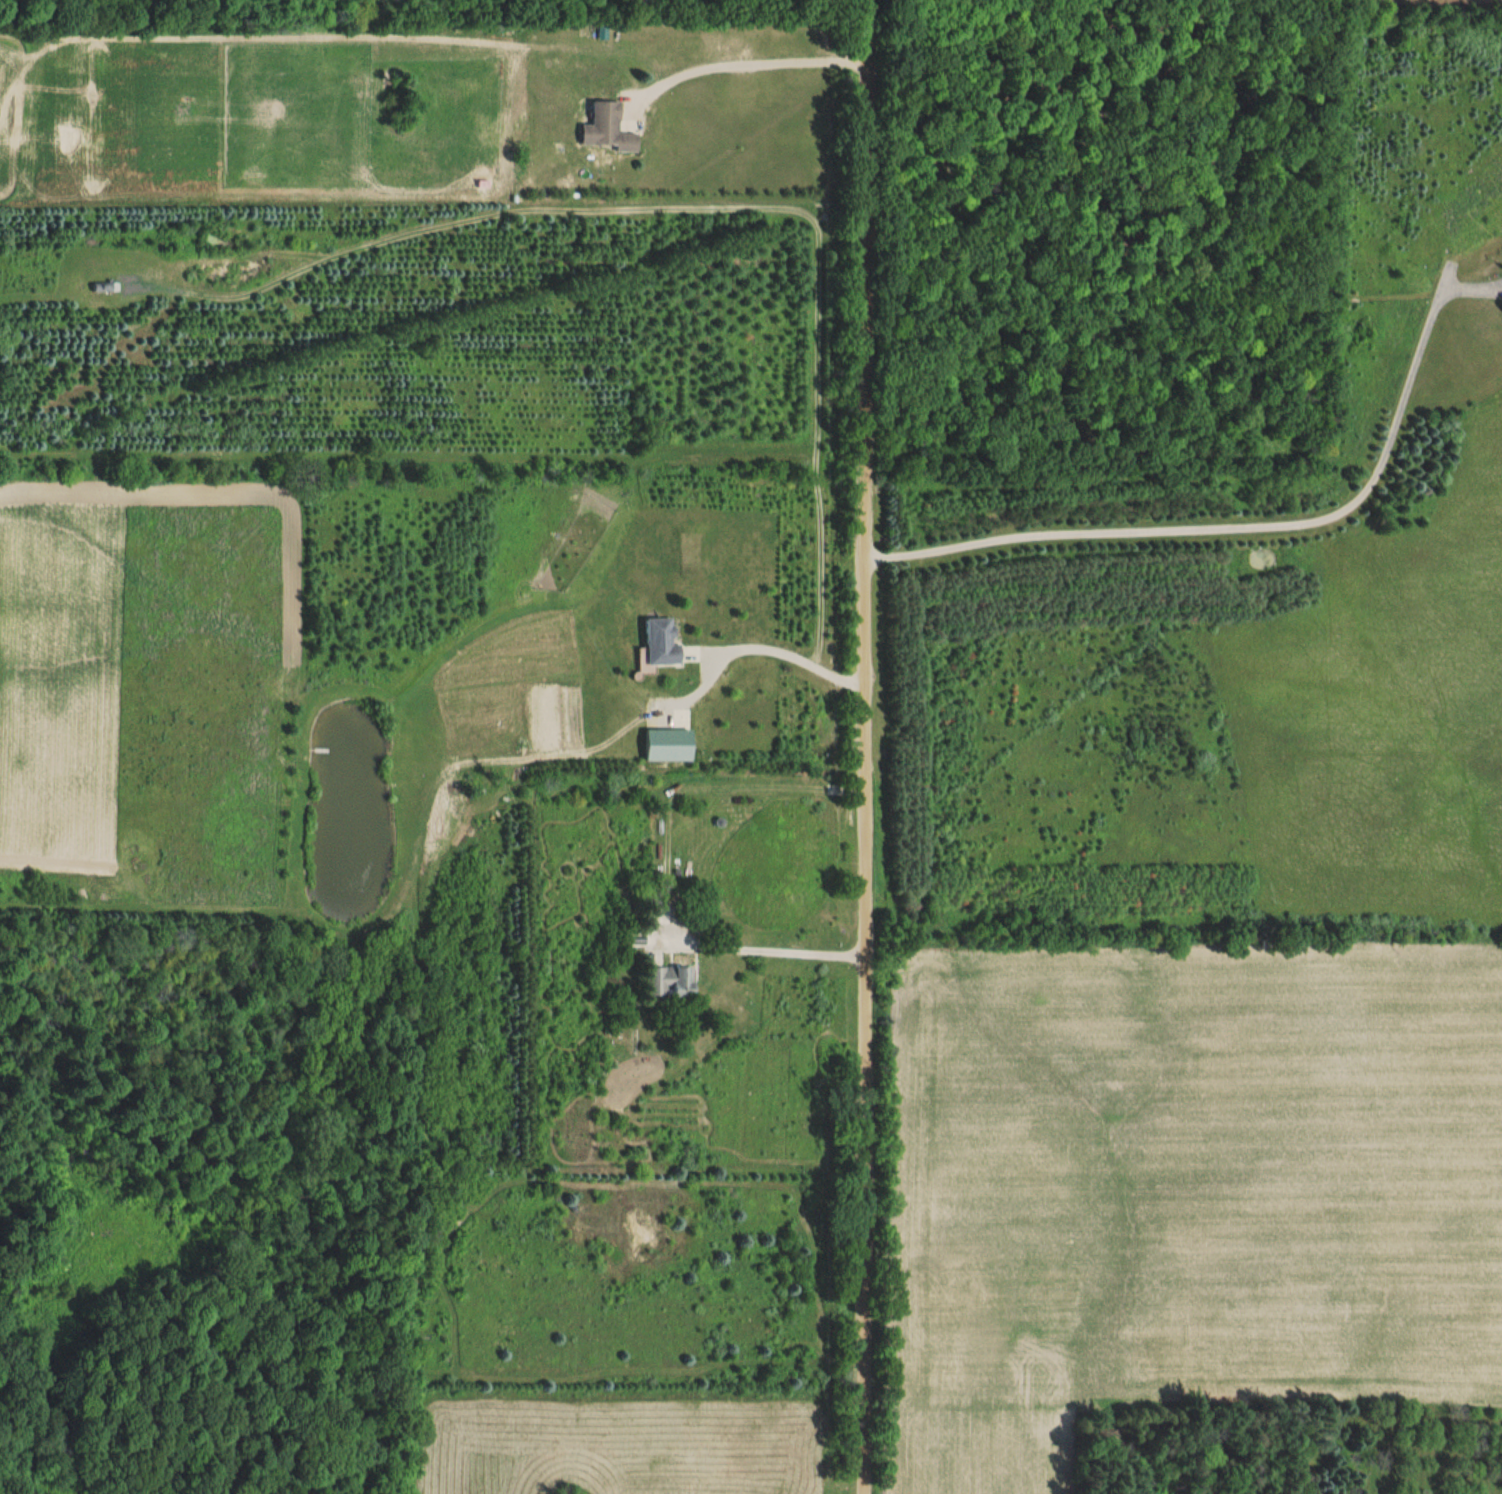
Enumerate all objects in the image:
road: (742, 63)
building: (606, 129)
building: (102, 287)
road: (1230, 525)
building: (659, 642)
road: (789, 651)
road: (866, 746)
road: (769, 948)
building: (666, 981)

